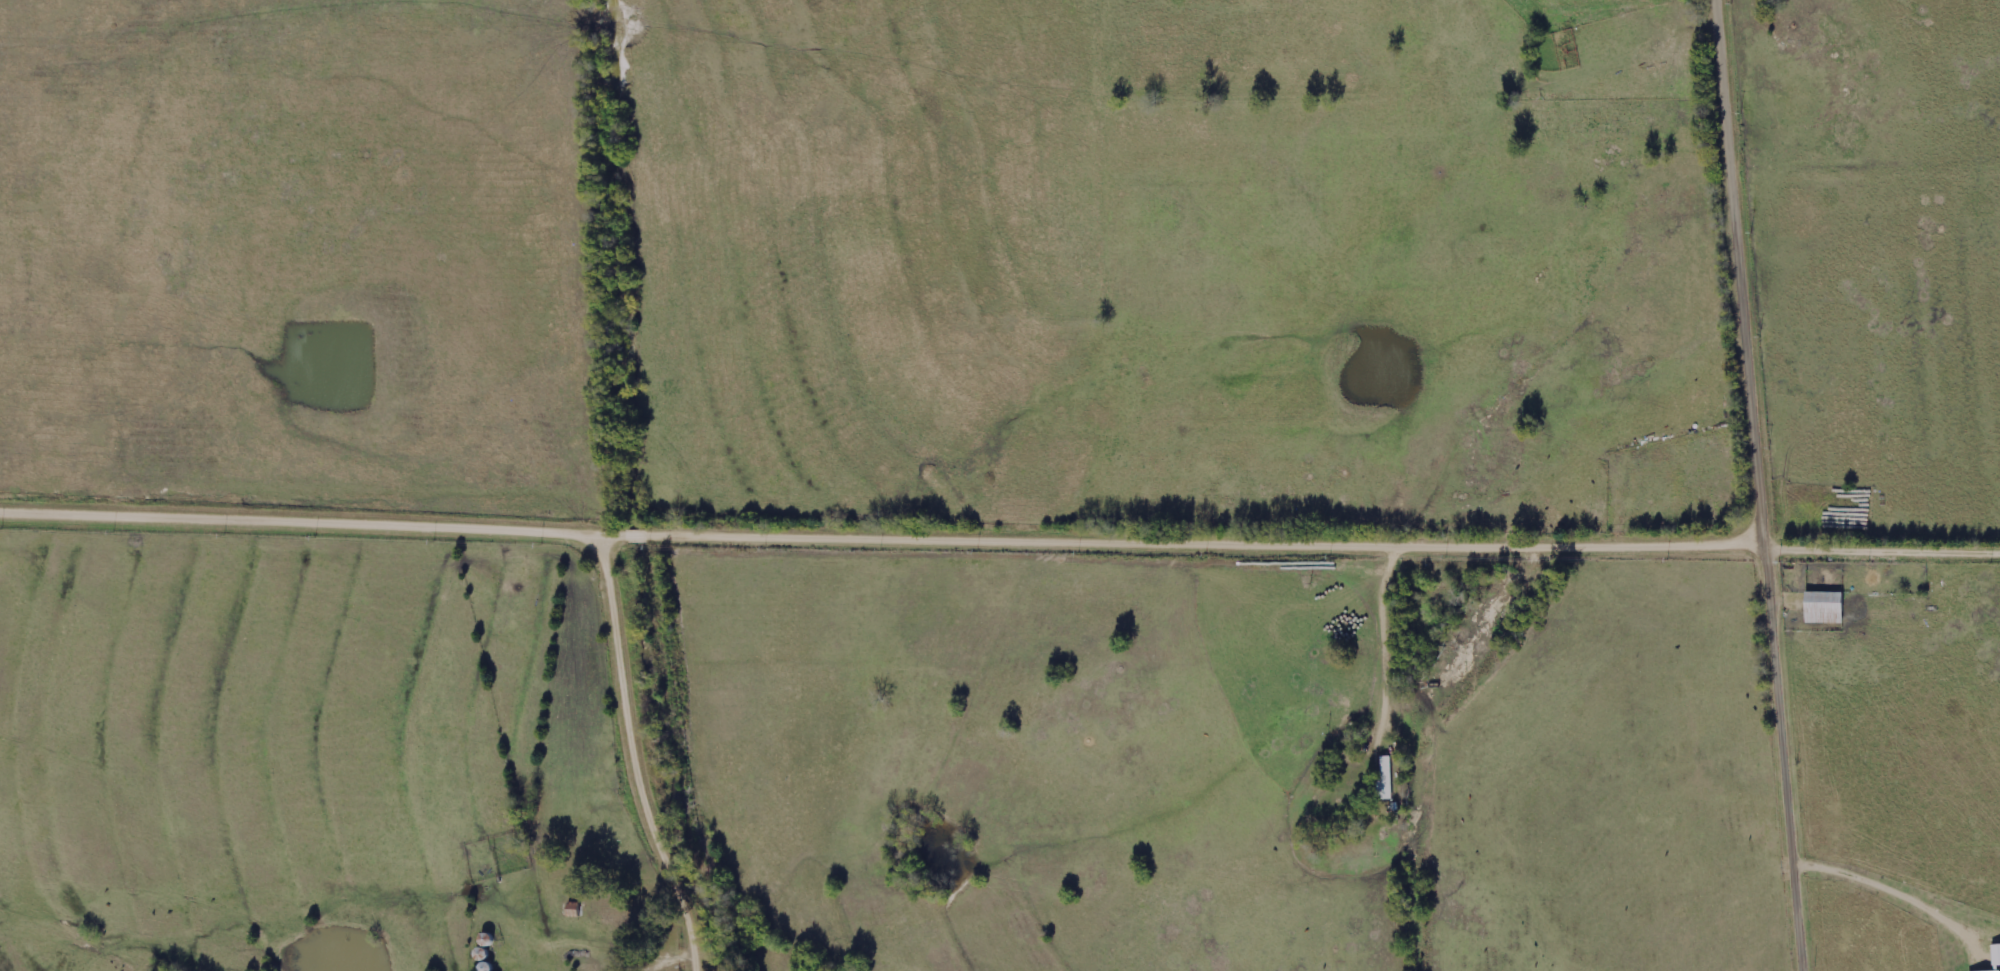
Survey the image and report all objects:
road: (1764, 485)
road: (884, 535)
road: (1884, 547)
building: (1826, 608)
road: (640, 756)
building: (1386, 780)
building: (574, 910)
building: (1997, 955)

